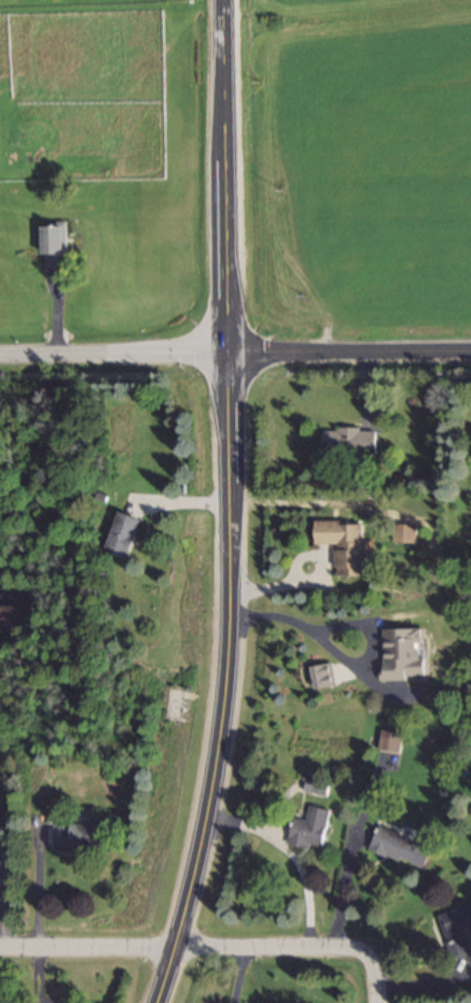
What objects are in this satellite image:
building: (56, 248)
road: (235, 350)
building: (351, 444)
road: (177, 501)
road: (230, 505)
building: (124, 536)
building: (406, 537)
building: (347, 547)
road: (297, 565)
building: (10, 620)
building: (407, 656)
road: (345, 659)
building: (318, 788)
building: (312, 831)
building: (82, 838)
building: (402, 850)
road: (291, 854)
road: (39, 882)
road: (345, 892)
building: (458, 934)
road: (179, 948)
road: (240, 975)
road: (370, 975)
road: (423, 984)

